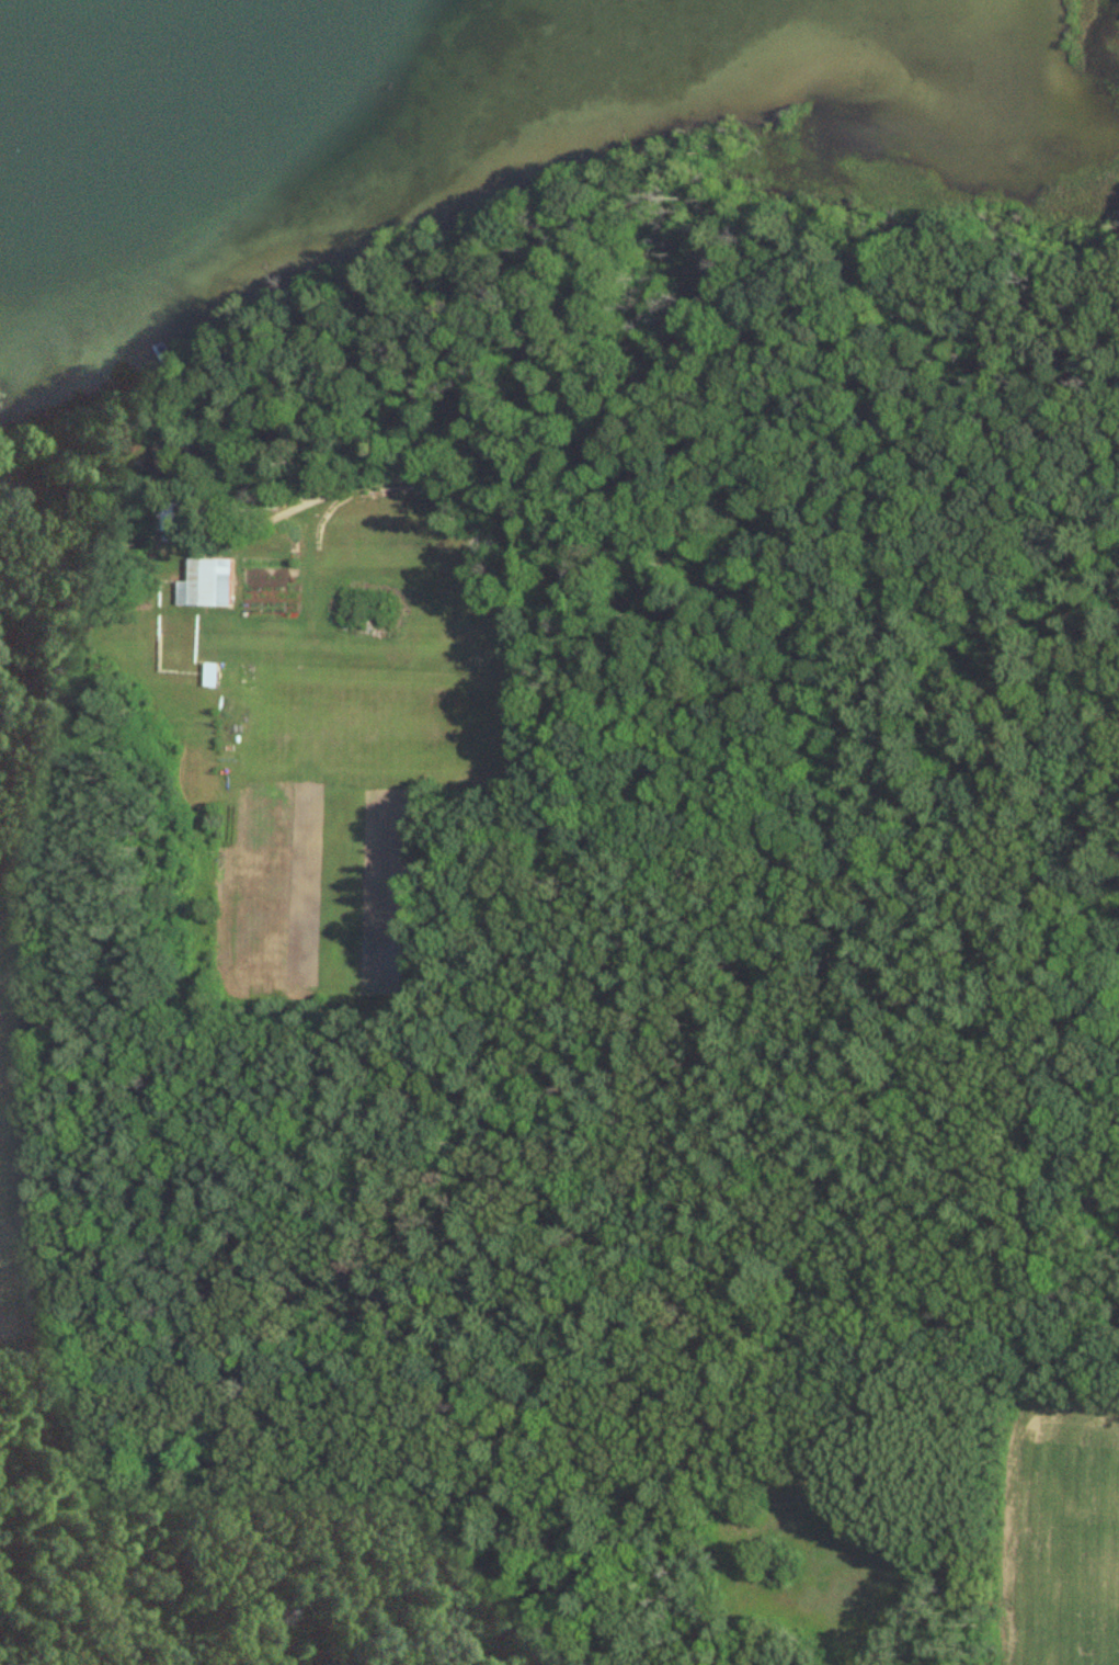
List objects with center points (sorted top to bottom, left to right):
building: (9, 510)
building: (163, 518)
building: (205, 585)
road: (643, 592)
building: (208, 676)

